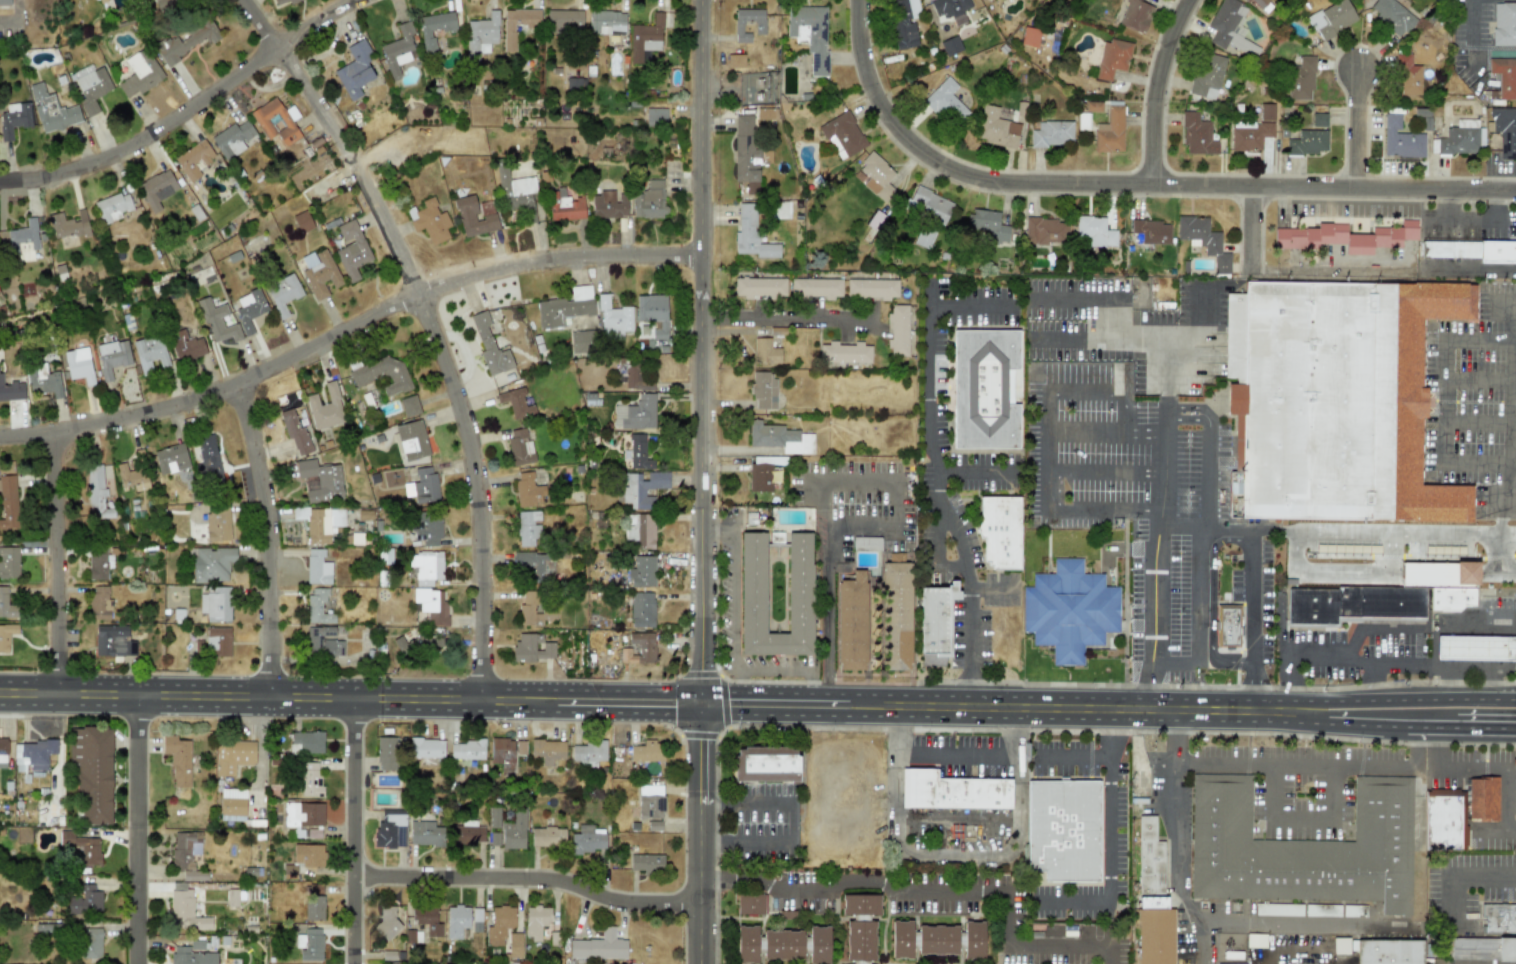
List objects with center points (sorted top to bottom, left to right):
building: (1246, 0)
building: (159, 1)
building: (282, 1)
building: (4, 2)
building: (1258, 3)
building: (949, 6)
building: (1134, 15)
building: (1392, 15)
road: (255, 17)
building: (1331, 18)
road: (6, 19)
road: (1470, 20)
building: (564, 21)
building: (903, 21)
building: (606, 22)
building: (746, 22)
building: (1504, 23)
building: (517, 25)
building: (1229, 27)
building: (434, 28)
building: (482, 32)
building: (810, 34)
building: (1030, 36)
building: (647, 38)
building: (186, 40)
road: (272, 42)
building: (950, 45)
building: (398, 50)
building: (1111, 58)
building: (736, 61)
building: (355, 70)
building: (139, 74)
building: (1207, 75)
building: (1407, 75)
building: (1504, 76)
building: (1301, 78)
building: (92, 89)
road: (1156, 89)
building: (752, 90)
building: (946, 102)
building: (52, 110)
road: (186, 111)
building: (1266, 111)
building: (656, 117)
building: (14, 119)
building: (1318, 119)
building: (276, 121)
building: (996, 128)
building: (1505, 130)
building: (1109, 131)
road: (1364, 131)
building: (1052, 133)
building: (1196, 134)
building: (1249, 134)
building: (232, 139)
building: (1400, 139)
building: (1307, 142)
building: (745, 148)
building: (764, 155)
building: (194, 160)
building: (876, 176)
road: (1129, 184)
building: (157, 189)
building: (517, 193)
road: (1356, 199)
building: (650, 200)
building: (928, 204)
building: (608, 205)
building: (565, 206)
building: (113, 207)
road: (1339, 212)
building: (473, 218)
building: (430, 221)
building: (302, 222)
building: (985, 224)
building: (68, 225)
road: (1255, 227)
building: (1095, 230)
building: (1046, 231)
building: (1151, 231)
building: (751, 234)
road: (1470, 235)
building: (924, 236)
building: (1309, 236)
building: (1380, 237)
building: (24, 240)
building: (1203, 240)
building: (352, 250)
building: (1470, 250)
road: (1468, 268)
road: (1330, 271)
building: (320, 274)
building: (759, 287)
building: (816, 288)
building: (872, 288)
building: (283, 293)
road: (1088, 295)
building: (565, 307)
road: (973, 309)
building: (249, 310)
building: (654, 317)
road: (789, 318)
building: (614, 319)
building: (217, 322)
building: (898, 329)
road: (1202, 336)
road: (1101, 339)
building: (580, 341)
road: (348, 344)
building: (186, 346)
building: (490, 346)
road: (700, 346)
building: (765, 351)
building: (845, 352)
building: (150, 353)
road: (443, 355)
building: (112, 357)
building: (79, 365)
building: (384, 375)
road: (1476, 375)
building: (43, 381)
building: (985, 389)
building: (11, 391)
building: (763, 391)
building: (1342, 398)
building: (516, 403)
parking lot: (1475, 403)
building: (409, 406)
road: (1191, 406)
building: (325, 408)
building: (637, 413)
road: (1166, 418)
road: (1184, 419)
road: (1476, 421)
road: (1105, 430)
building: (295, 432)
building: (779, 438)
road: (934, 438)
building: (412, 440)
building: (519, 446)
road: (1044, 448)
building: (639, 453)
road: (1512, 453)
building: (171, 458)
building: (208, 460)
road: (1512, 470)
road: (974, 472)
road: (1104, 472)
building: (759, 475)
building: (132, 477)
road: (1505, 479)
building: (320, 481)
road: (820, 482)
building: (422, 486)
building: (642, 488)
building: (528, 490)
parking lot: (1127, 491)
building: (96, 493)
road: (1205, 502)
building: (8, 503)
building: (217, 522)
building: (320, 523)
building: (426, 528)
building: (528, 528)
road: (1181, 529)
building: (999, 530)
building: (639, 531)
road: (951, 532)
road: (278, 542)
road: (1500, 555)
building: (9, 562)
building: (97, 563)
building: (211, 564)
building: (533, 565)
road: (65, 566)
building: (426, 567)
building: (317, 568)
road: (1152, 569)
building: (642, 572)
road: (736, 574)
building: (752, 583)
parking lot: (1258, 596)
building: (1451, 597)
road: (1124, 601)
building: (99, 603)
road: (1211, 603)
road: (1252, 603)
building: (1352, 603)
building: (216, 604)
building: (6, 605)
building: (432, 605)
building: (318, 606)
building: (536, 609)
building: (642, 609)
building: (1069, 610)
building: (895, 615)
building: (936, 619)
road: (1197, 620)
building: (851, 621)
road: (967, 625)
building: (1227, 626)
road: (1242, 627)
road: (1436, 632)
building: (6, 636)
building: (113, 641)
building: (218, 642)
building: (323, 642)
building: (1474, 647)
building: (532, 648)
building: (639, 649)
parking lot: (1344, 651)
road: (774, 663)
road: (1293, 665)
road: (1477, 667)
road: (1245, 669)
road: (736, 678)
road: (1371, 681)
road: (1036, 683)
road: (1254, 688)
road: (1281, 688)
road: (593, 690)
road: (718, 693)
road: (815, 693)
road: (243, 696)
road: (1420, 698)
road: (700, 702)
road: (1110, 707)
road: (593, 710)
road: (797, 713)
road: (1371, 727)
road: (1436, 727)
road: (1485, 728)
building: (306, 742)
building: (3, 746)
building: (426, 747)
building: (467, 749)
building: (547, 750)
building: (505, 751)
building: (589, 751)
building: (647, 751)
road: (955, 752)
building: (385, 753)
road: (699, 753)
building: (32, 754)
parking lot: (960, 755)
road: (1073, 755)
building: (232, 756)
building: (178, 759)
building: (765, 763)
road: (1316, 763)
road: (1508, 763)
building: (92, 772)
building: (310, 779)
building: (952, 791)
building: (1481, 798)
building: (650, 801)
building: (232, 804)
building: (494, 817)
building: (304, 818)
building: (1444, 819)
road: (787, 820)
road: (134, 829)
building: (389, 829)
building: (1064, 830)
road: (1303, 830)
road: (354, 831)
building: (510, 832)
building: (425, 833)
building: (466, 833)
building: (547, 836)
road: (1179, 838)
building: (586, 840)
road: (1113, 846)
building: (81, 848)
building: (185, 848)
building: (1301, 848)
road: (954, 851)
building: (308, 854)
building: (645, 862)
road: (1450, 873)
road: (527, 879)
road: (698, 879)
road: (938, 889)
building: (233, 897)
building: (1152, 898)
building: (84, 900)
building: (750, 903)
building: (313, 907)
building: (184, 909)
building: (1498, 917)
building: (426, 919)
building: (476, 919)
building: (456, 920)
building: (535, 920)
building: (386, 921)
road: (1308, 922)
building: (499, 924)
building: (860, 926)
building: (936, 938)
building: (90, 942)
building: (782, 943)
road: (1294, 943)
building: (309, 944)
building: (514, 945)
building: (598, 946)
building: (1485, 947)
building: (1388, 951)
building: (192, 954)
building: (1235, 963)

